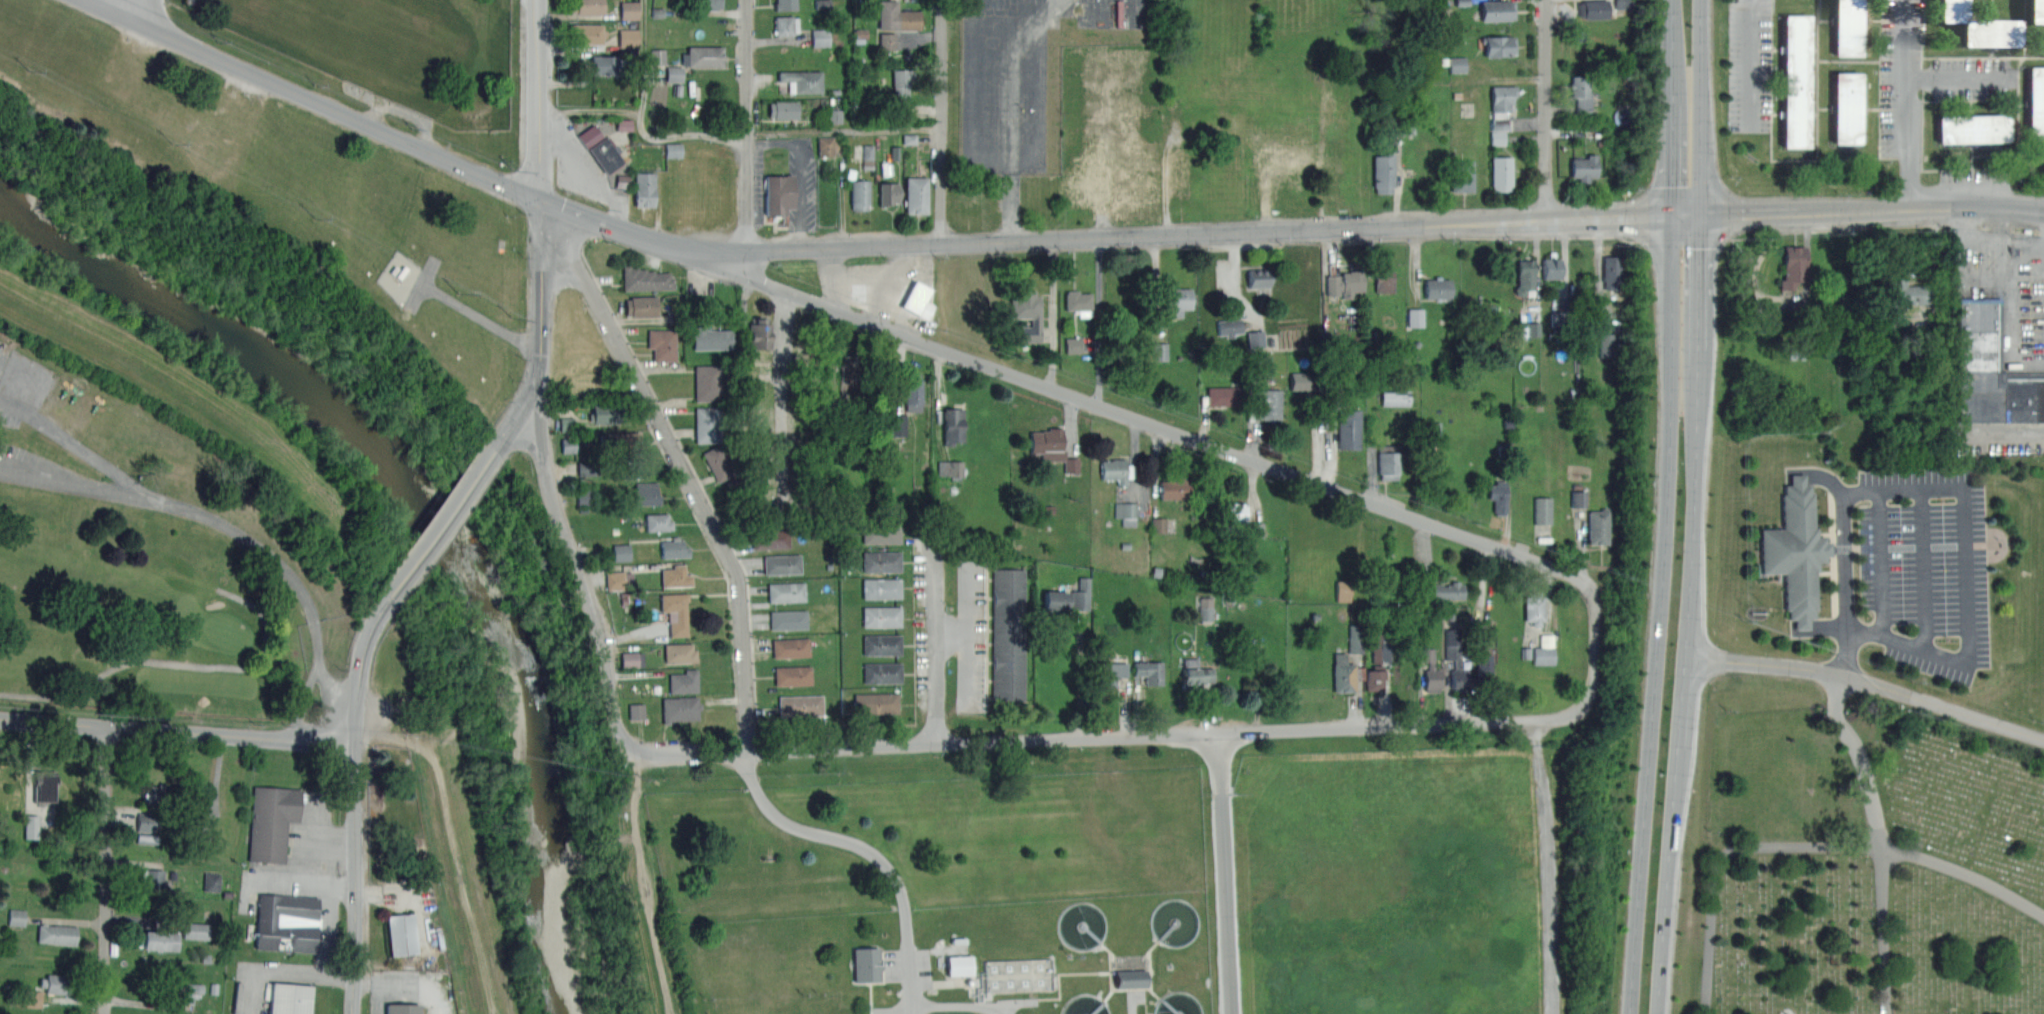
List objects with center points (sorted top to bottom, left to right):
building: (785, 4)
building: (705, 5)
building: (586, 7)
building: (1593, 9)
road: (131, 10)
building: (629, 10)
road: (1011, 10)
building: (1498, 10)
building: (2036, 12)
building: (897, 17)
building: (786, 25)
building: (1845, 27)
building: (1979, 27)
building: (587, 34)
building: (629, 38)
building: (821, 38)
road: (1673, 40)
building: (1498, 45)
building: (703, 56)
road: (644, 63)
road: (1747, 63)
building: (1458, 64)
building: (605, 65)
building: (674, 74)
road: (1958, 78)
building: (801, 80)
building: (1794, 81)
building: (902, 84)
parking lot: (1008, 84)
road: (1673, 92)
building: (1581, 93)
road: (309, 100)
road: (535, 100)
building: (2034, 102)
road: (1909, 105)
building: (1501, 106)
road: (1699, 107)
building: (1845, 108)
building: (783, 109)
road: (1547, 110)
road: (1009, 119)
road: (941, 121)
road: (746, 124)
road: (640, 126)
building: (1971, 129)
road: (843, 130)
building: (827, 144)
building: (600, 148)
building: (673, 151)
building: (1280, 157)
road: (1673, 160)
building: (1583, 168)
building: (1383, 172)
building: (1501, 173)
building: (1462, 176)
parking lot: (785, 183)
building: (644, 188)
road: (798, 190)
building: (1078, 190)
road: (658, 191)
building: (778, 193)
building: (889, 193)
building: (860, 194)
building: (916, 195)
road: (1395, 226)
road: (2002, 235)
road: (640, 236)
road: (1961, 263)
building: (1793, 266)
building: (1551, 267)
building: (1611, 272)
building: (1524, 275)
road: (541, 277)
building: (1258, 277)
building: (645, 279)
road: (1698, 279)
building: (1384, 281)
building: (1346, 283)
building: (1437, 287)
building: (1907, 292)
road: (2006, 298)
building: (1177, 300)
building: (918, 301)
building: (1078, 302)
building: (641, 306)
building: (1027, 313)
building: (1416, 317)
building: (1230, 325)
building: (759, 333)
building: (711, 338)
building: (662, 344)
building: (1074, 345)
building: (1160, 351)
parking lot: (5, 356)
building: (761, 357)
road: (1697, 361)
building: (1991, 371)
building: (1306, 380)
building: (707, 383)
building: (913, 392)
road: (782, 395)
building: (1223, 395)
building: (1268, 404)
road: (524, 405)
road: (14, 407)
parking lot: (13, 410)
building: (607, 413)
building: (566, 424)
building: (707, 424)
building: (897, 425)
building: (952, 425)
building: (1349, 429)
road: (2004, 431)
building: (620, 443)
road: (1203, 444)
building: (1052, 447)
building: (1388, 461)
building: (719, 462)
parking lot: (19, 463)
road: (681, 464)
building: (950, 468)
road: (17, 470)
building: (633, 470)
building: (1115, 470)
road: (87, 485)
road: (1834, 485)
building: (1177, 487)
building: (646, 493)
building: (1498, 496)
building: (1130, 514)
building: (1233, 515)
river: (425, 517)
road: (442, 522)
building: (658, 522)
building: (1159, 525)
road: (232, 526)
building: (1598, 526)
building: (881, 533)
building: (770, 538)
building: (674, 548)
building: (1797, 551)
road: (569, 552)
building: (621, 552)
park: (148, 557)
building: (881, 561)
road: (1843, 562)
building: (782, 564)
road: (1881, 564)
parking lot: (1925, 568)
road: (1924, 569)
road: (1966, 575)
building: (675, 576)
building: (629, 580)
building: (615, 581)
building: (881, 588)
building: (1442, 591)
building: (786, 592)
building: (1082, 595)
building: (1056, 603)
building: (1533, 607)
building: (675, 612)
road: (1660, 615)
building: (881, 616)
building: (788, 619)
park: (227, 631)
road: (934, 631)
parking lot: (971, 633)
road: (951, 634)
road: (967, 634)
building: (1008, 634)
building: (882, 644)
building: (791, 647)
building: (679, 652)
road: (1843, 652)
building: (1544, 656)
building: (632, 659)
building: (1455, 660)
road: (169, 662)
road: (360, 667)
building: (1430, 669)
building: (1484, 670)
building: (1149, 671)
building: (882, 672)
building: (1111, 672)
building: (1346, 673)
building: (1196, 674)
building: (793, 676)
road: (1082, 677)
building: (1374, 678)
building: (683, 681)
road: (1867, 681)
road: (1681, 697)
building: (876, 703)
building: (800, 705)
building: (680, 708)
building: (636, 712)
road: (178, 732)
road: (1118, 736)
park: (1867, 739)
road: (1861, 757)
building: (45, 787)
building: (153, 795)
building: (271, 821)
building: (148, 822)
building: (31, 826)
building: (147, 838)
road: (870, 851)
road: (1722, 856)
road: (1546, 867)
road: (109, 871)
road: (1224, 873)
road: (1965, 874)
road: (355, 879)
building: (152, 880)
building: (212, 882)
building: (17, 917)
building: (286, 922)
road: (1884, 929)
building: (196, 931)
building: (57, 934)
building: (401, 934)
building: (157, 940)
wastewater plant: (963, 959)
building: (868, 963)
building: (960, 964)
road: (283, 971)
building: (1016, 974)
road: (408, 983)
building: (55, 984)
building: (189, 991)
building: (289, 998)
building: (33, 999)
road: (953, 1005)
building: (402, 1008)

